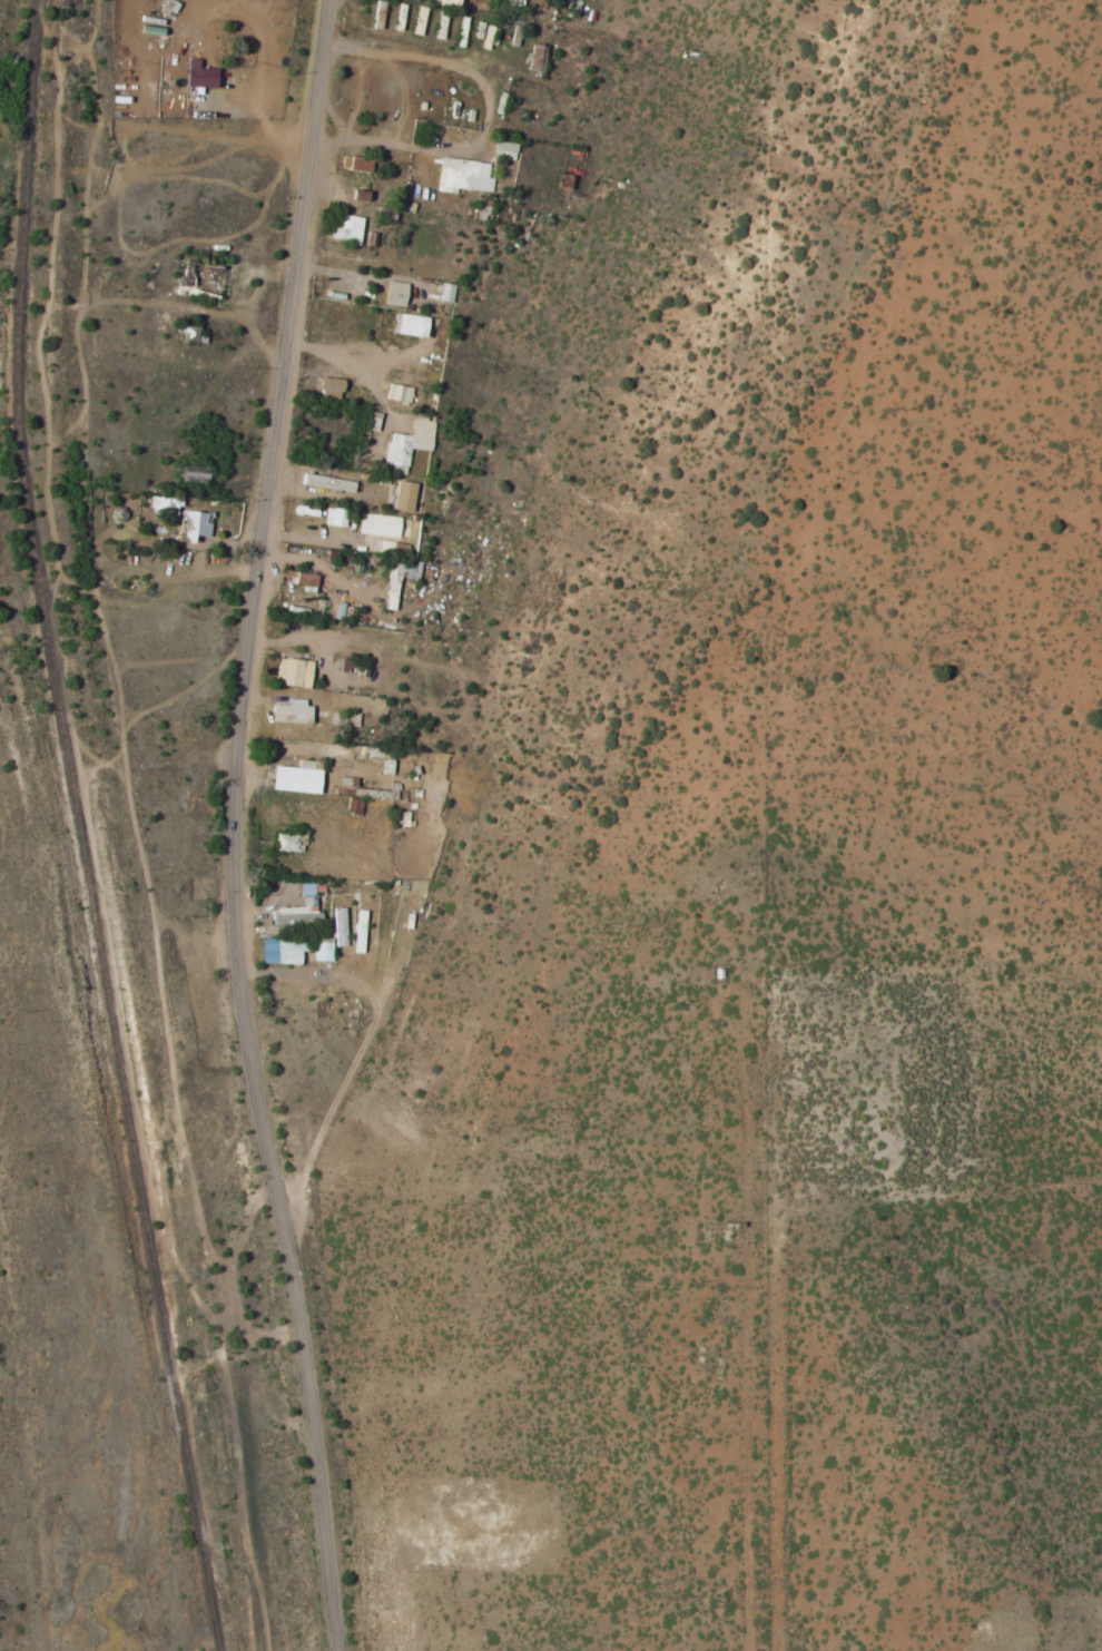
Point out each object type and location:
building: (197, 76)
building: (502, 150)
building: (463, 176)
building: (346, 228)
building: (444, 293)
building: (393, 294)
building: (410, 325)
building: (328, 385)
building: (397, 393)
building: (407, 443)
building: (325, 483)
building: (403, 497)
building: (336, 518)
building: (376, 525)
building: (193, 527)
building: (303, 580)
building: (395, 582)
building: (292, 674)
building: (288, 713)
building: (294, 779)
road: (235, 826)
railway: (80, 828)
building: (287, 843)
building: (298, 910)
building: (358, 932)
building: (322, 950)
building: (281, 951)

